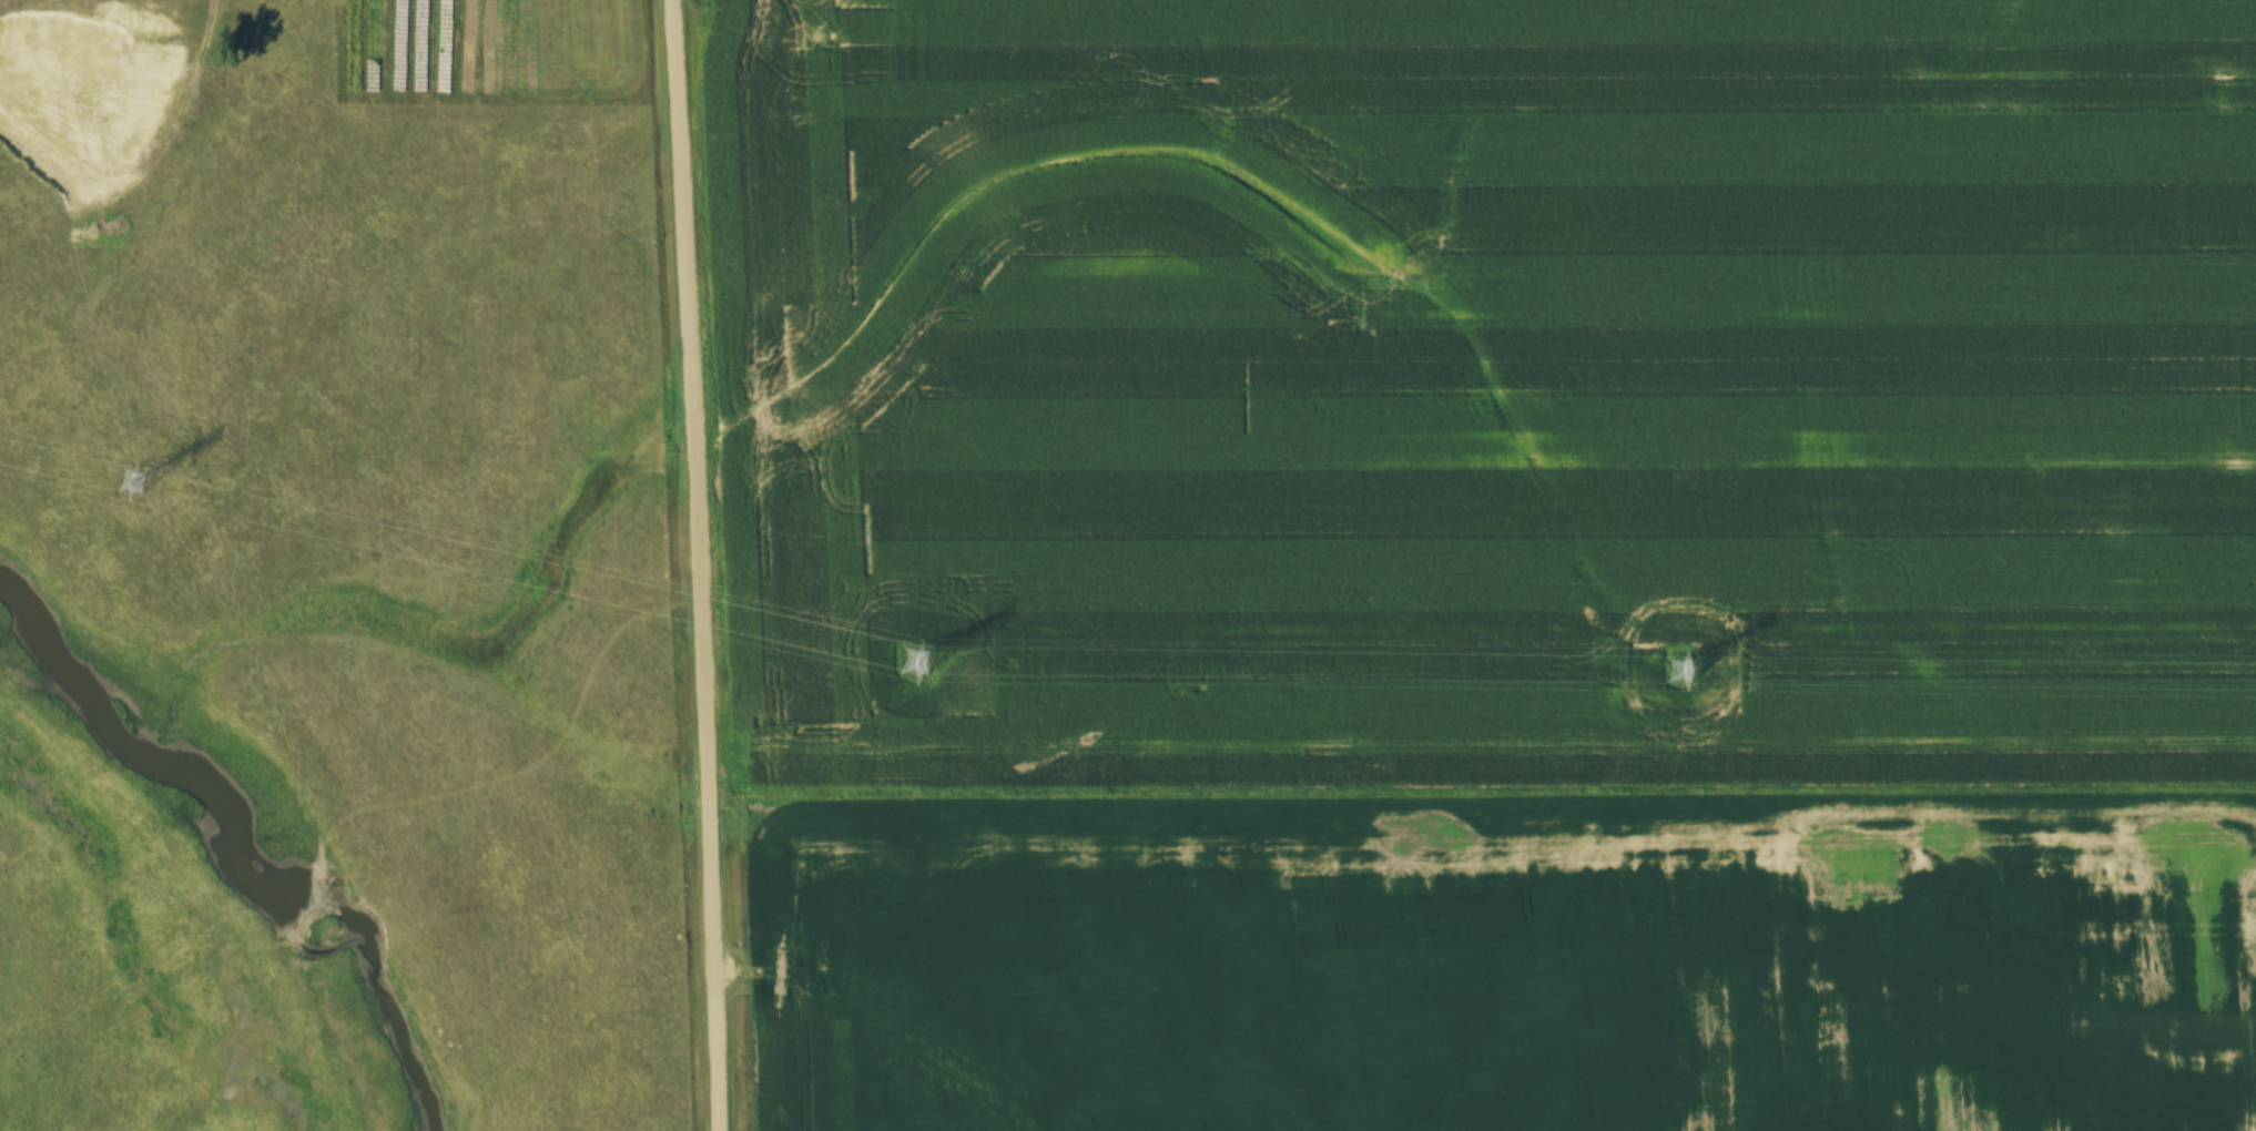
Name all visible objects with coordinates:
power tower: (143, 499)
road: (699, 564)
power tower: (908, 661)
power tower: (1687, 661)

